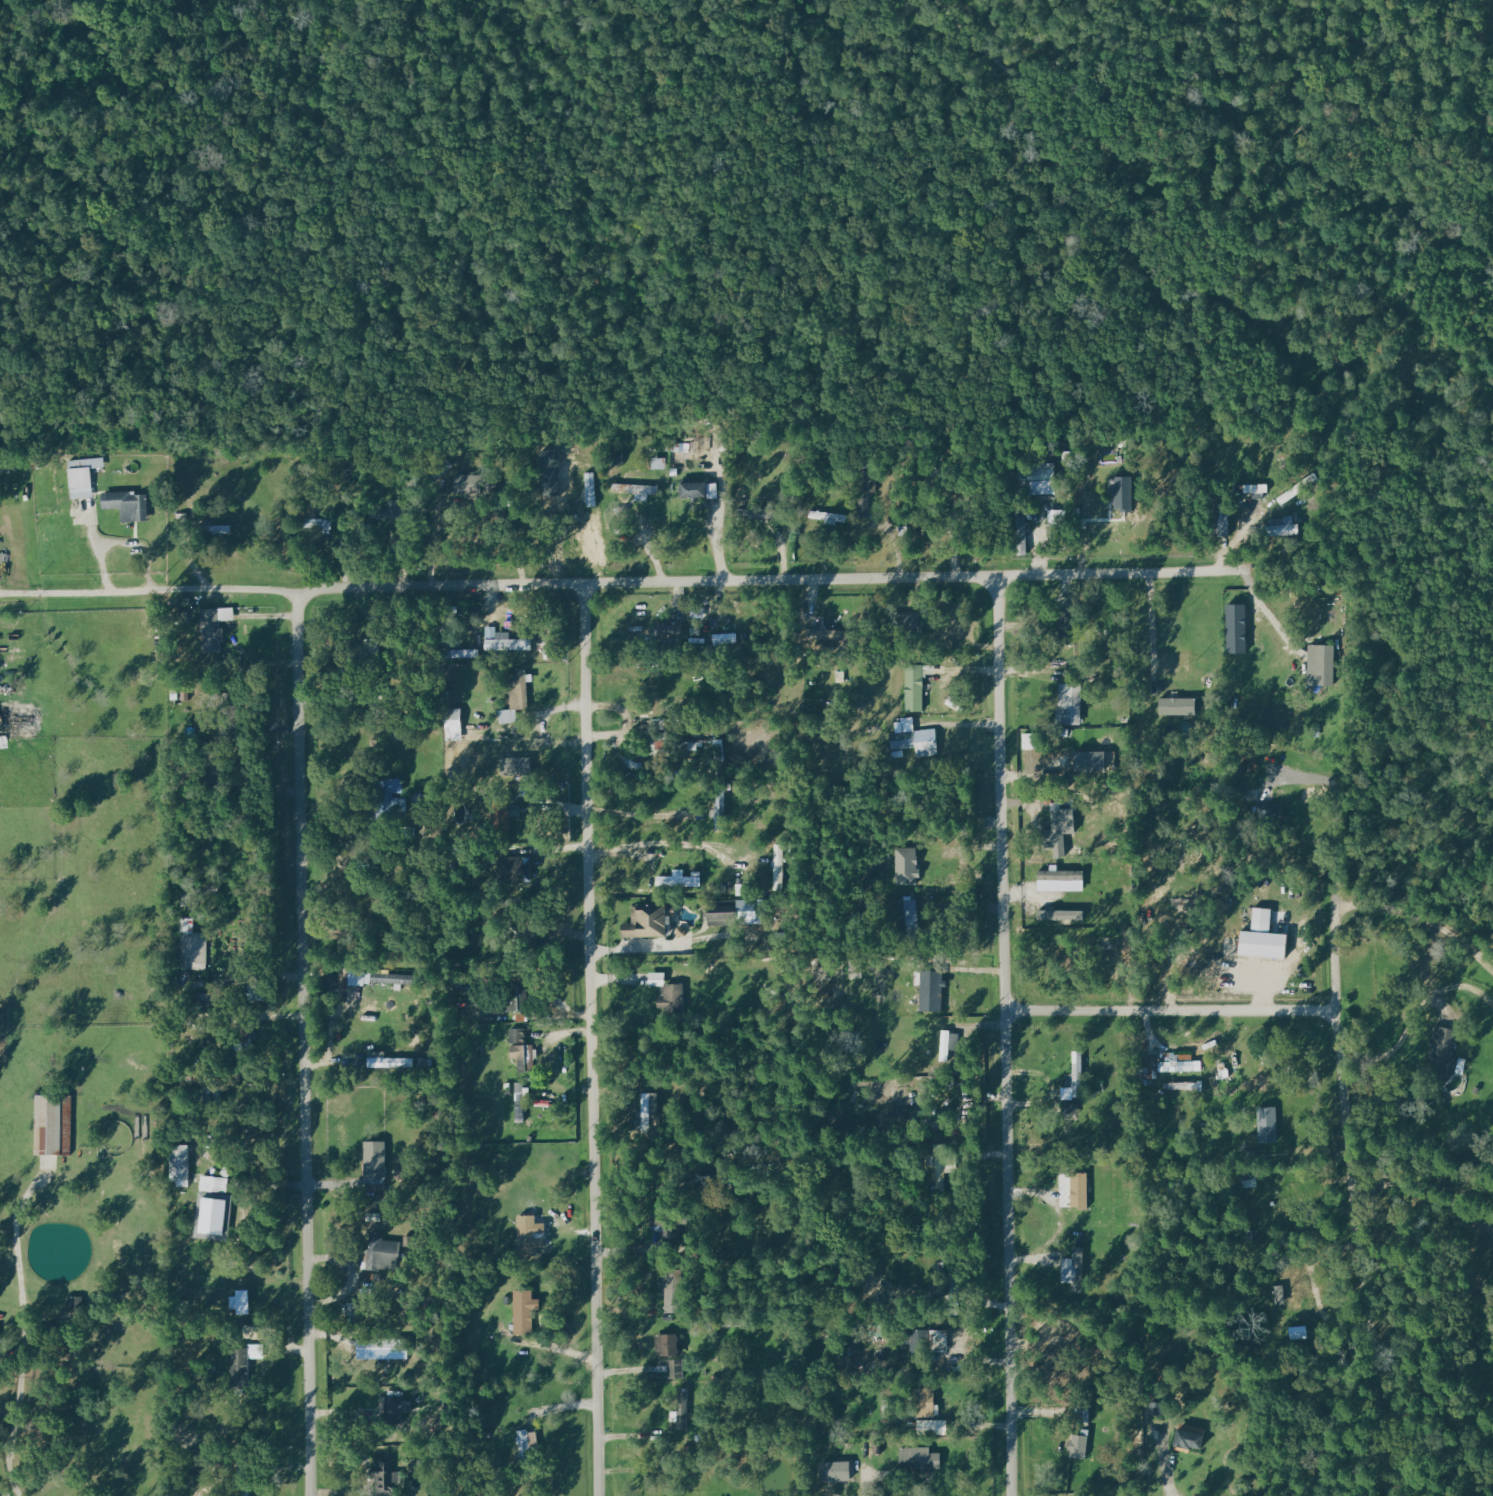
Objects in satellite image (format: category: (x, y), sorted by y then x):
building: (615, 456)
building: (658, 463)
building: (86, 475)
building: (1041, 485)
building: (1251, 488)
building: (590, 489)
building: (637, 490)
building: (698, 490)
building: (131, 504)
building: (1121, 505)
building: (752, 513)
building: (319, 524)
building: (1284, 528)
building: (217, 529)
building: (1022, 531)
road: (639, 583)
building: (1243, 616)
building: (213, 622)
road: (1154, 624)
building: (670, 633)
building: (724, 638)
building: (508, 645)
building: (461, 653)
building: (1320, 665)
building: (913, 688)
building: (514, 695)
building: (1068, 704)
building: (1175, 707)
building: (22, 719)
building: (451, 724)
building: (912, 738)
building: (690, 747)
building: (718, 750)
building: (1246, 763)
building: (514, 765)
building: (387, 790)
building: (1266, 812)
road: (642, 813)
building: (503, 815)
building: (1056, 833)
building: (777, 867)
building: (510, 869)
building: (677, 880)
building: (1059, 880)
building: (1180, 903)
building: (744, 909)
building: (1058, 914)
road: (1418, 917)
building: (647, 919)
building: (1261, 937)
building: (192, 949)
building: (386, 977)
building: (668, 991)
road: (1336, 1010)
road: (1172, 1012)
road: (1008, 1036)
road: (1401, 1037)
road: (594, 1040)
road: (305, 1042)
building: (945, 1044)
building: (520, 1050)
building: (382, 1061)
building: (1164, 1067)
building: (1074, 1078)
building: (1182, 1086)
building: (520, 1100)
building: (649, 1109)
building: (1068, 1109)
building: (52, 1124)
building: (1267, 1124)
building: (374, 1159)
building: (179, 1164)
building: (1249, 1180)
road: (1423, 1182)
building: (1077, 1189)
building: (210, 1205)
building: (528, 1234)
building: (379, 1252)
building: (1072, 1266)
building: (1291, 1292)
building: (238, 1301)
building: (521, 1311)
road: (24, 1332)
building: (937, 1338)
building: (669, 1344)
building: (1, 1350)
building: (238, 1361)
building: (674, 1369)
building: (922, 1402)
building: (932, 1427)
building: (1186, 1439)
building: (528, 1440)
building: (1076, 1446)
building: (917, 1459)
road: (1162, 1469)
building: (385, 1475)
building: (243, 1491)

